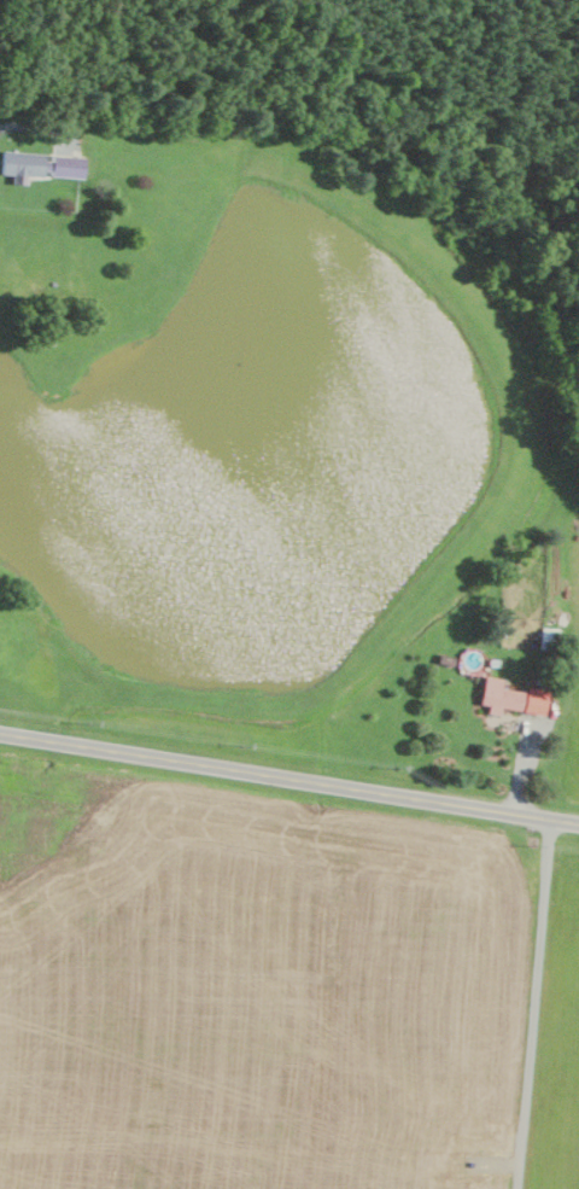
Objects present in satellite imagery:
road: (31, 124)
building: (43, 164)
building: (513, 698)
road: (289, 779)
road: (533, 1004)

